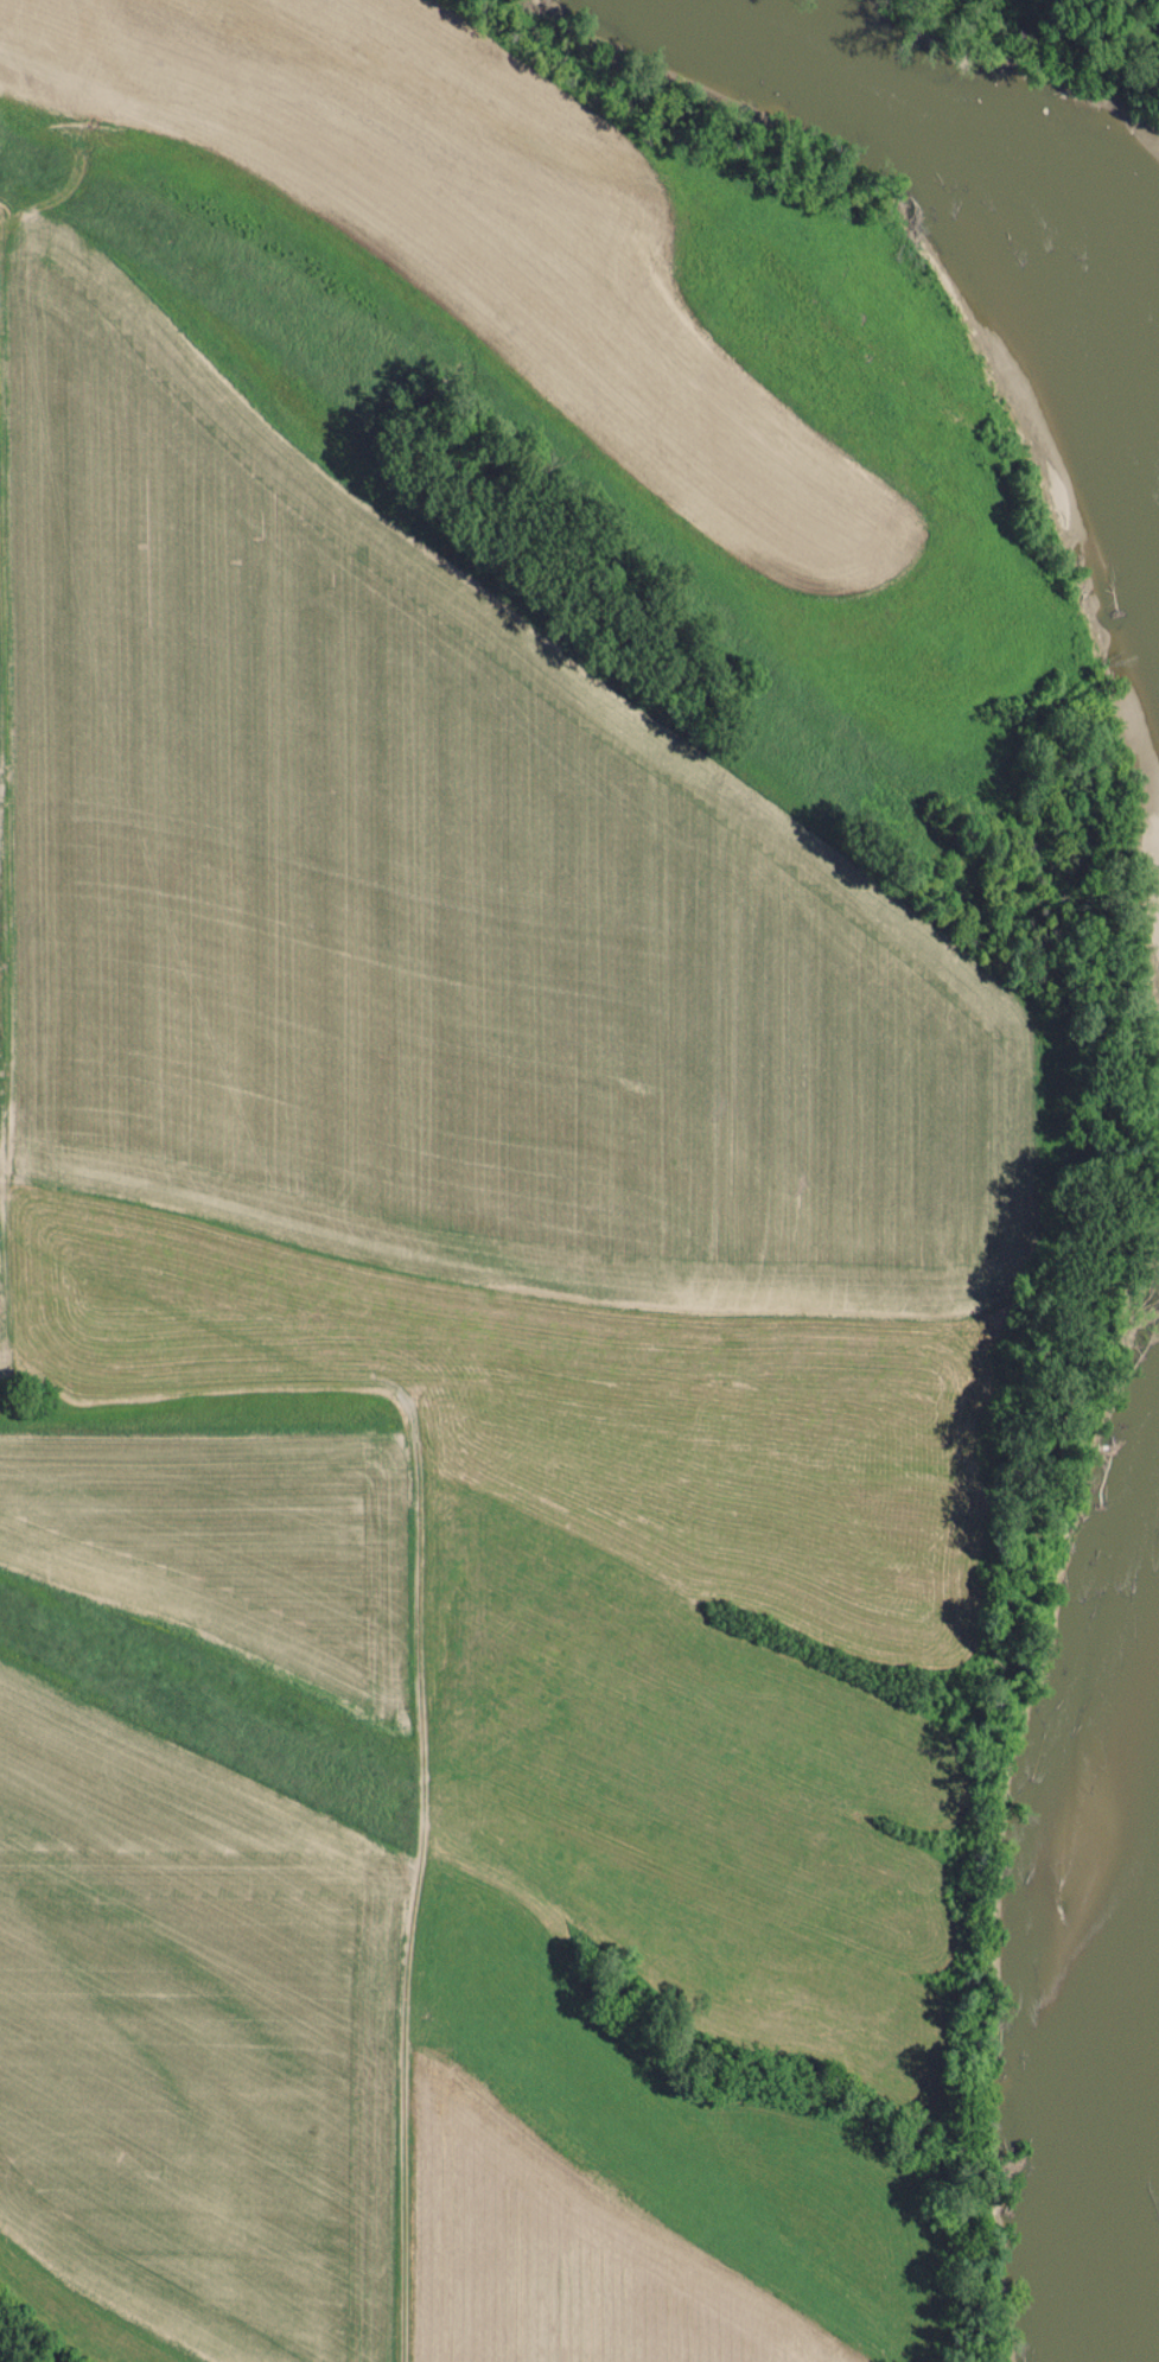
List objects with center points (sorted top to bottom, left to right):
road: (1008, 11)
river: (898, 104)
river: (1135, 2068)

